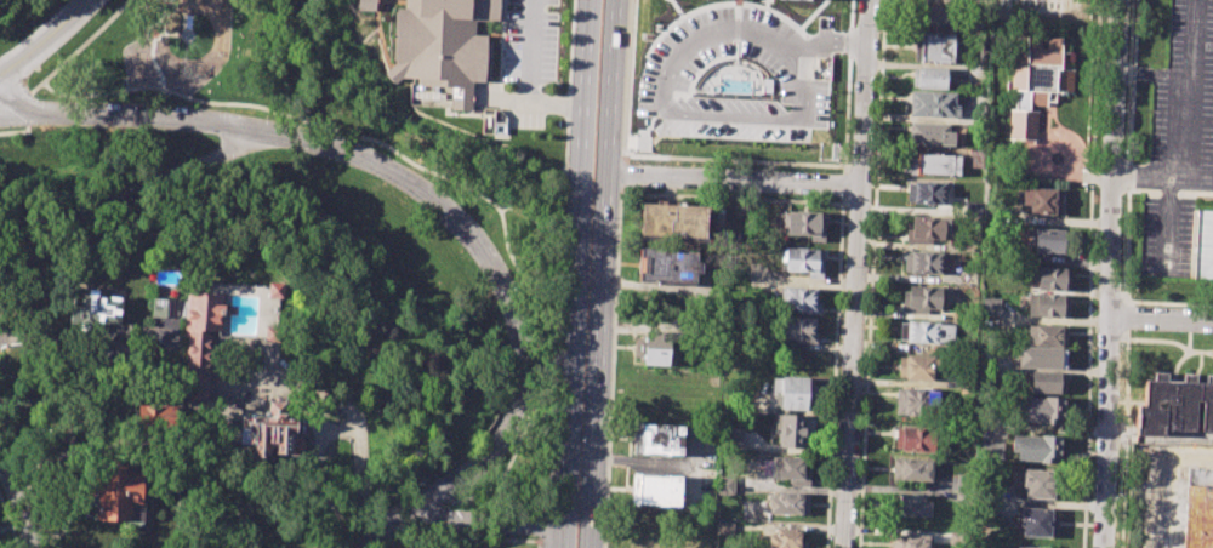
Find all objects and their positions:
road: (169, 0)
building: (786, 1)
building: (365, 5)
road: (165, 7)
street lamp: (547, 8)
building: (935, 17)
road: (158, 19)
road: (66, 23)
road: (163, 33)
road: (705, 33)
road: (152, 38)
parking lot: (528, 41)
road: (7, 42)
building: (443, 44)
building: (936, 46)
road: (73, 53)
street lamp: (56, 55)
road: (18, 59)
road: (154, 63)
road: (27, 67)
road: (1154, 73)
building: (930, 78)
road: (528, 80)
building: (1037, 81)
street lamp: (540, 87)
road: (1191, 90)
street lamp: (36, 97)
street lamp: (146, 101)
road: (505, 103)
road: (16, 104)
building: (933, 104)
road: (797, 112)
street lamp: (266, 115)
road: (4, 120)
building: (492, 121)
building: (930, 135)
parking lot: (1180, 143)
street lamp: (372, 145)
road: (1128, 152)
building: (933, 164)
road: (440, 172)
road: (736, 179)
road: (1161, 179)
park: (309, 187)
building: (930, 193)
road: (114, 195)
road: (431, 199)
road: (51, 200)
building: (1042, 200)
street lamp: (461, 205)
road: (507, 206)
street lamp: (591, 217)
building: (674, 222)
building: (807, 224)
road: (1168, 228)
building: (924, 229)
building: (1055, 240)
building: (1205, 245)
road: (562, 256)
building: (805, 261)
building: (926, 262)
building: (671, 264)
road: (856, 273)
road: (871, 273)
road: (1089, 273)
road: (1109, 273)
road: (576, 274)
road: (606, 274)
building: (1050, 279)
road: (801, 281)
street lamp: (518, 289)
building: (274, 290)
building: (801, 299)
building: (924, 299)
building: (1048, 304)
building: (96, 308)
building: (164, 308)
building: (990, 308)
road: (1127, 318)
road: (1160, 320)
building: (799, 330)
building: (272, 333)
building: (930, 333)
building: (1047, 335)
building: (200, 338)
road: (87, 339)
building: (656, 348)
building: (1042, 358)
building: (919, 367)
building: (1047, 382)
street lamp: (534, 386)
building: (788, 393)
building: (917, 401)
road: (344, 405)
building: (1174, 406)
building: (1042, 410)
building: (155, 413)
building: (270, 429)
building: (791, 429)
building: (731, 436)
street lamp: (580, 439)
building: (657, 439)
building: (918, 439)
road: (1126, 439)
building: (1036, 447)
building: (790, 469)
building: (912, 469)
street lamp: (484, 478)
road: (1160, 479)
road: (27, 483)
building: (1040, 483)
building: (655, 490)
building: (119, 493)
road: (17, 497)
building: (787, 503)
road: (1052, 503)
building: (912, 504)
street lamp: (446, 507)
building: (1201, 507)
street lamp: (535, 512)
building: (1037, 521)
road: (8, 523)
road: (480, 523)
road: (540, 523)
road: (340, 527)
building: (724, 527)
road: (371, 532)
road: (456, 536)
building: (786, 540)
road: (536, 541)
building: (645, 541)
building: (909, 541)
building: (491, 547)
building: (1026, 547)

